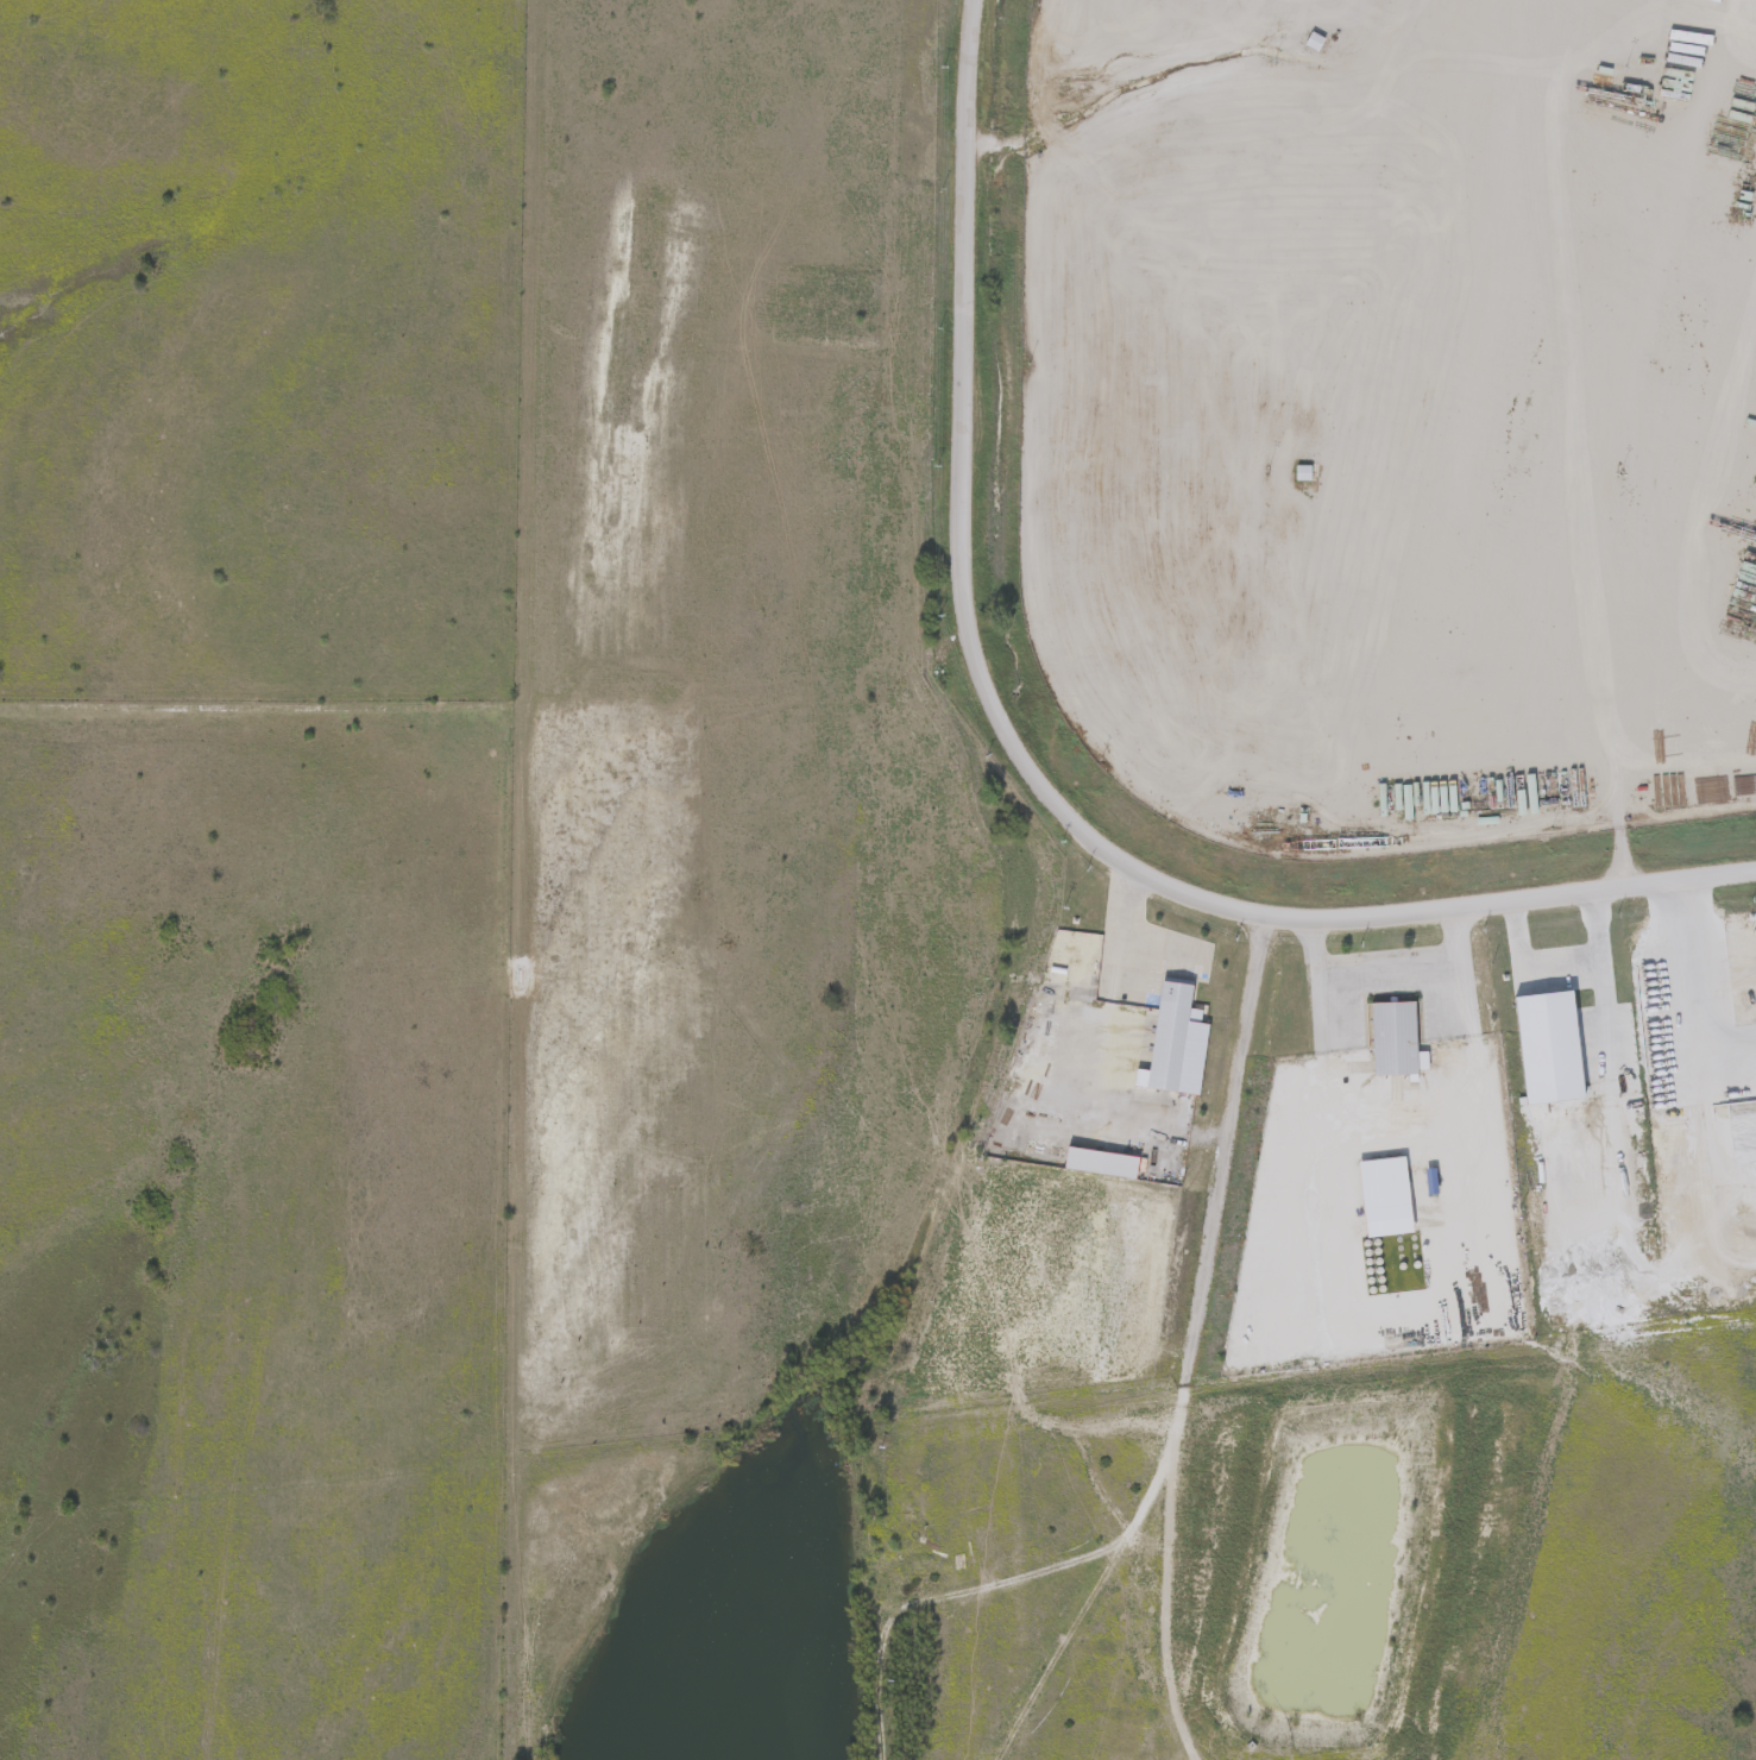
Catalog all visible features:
road: (1025, 769)
road: (1553, 961)
road: (1393, 972)
building: (1393, 1037)
road: (1226, 1143)
building: (1386, 1195)

